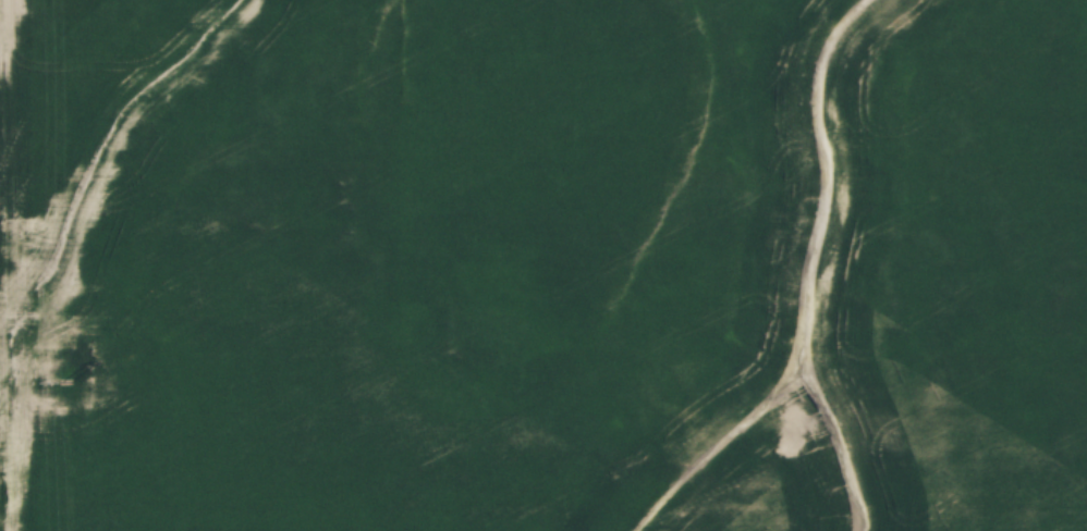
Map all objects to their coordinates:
power tower: (65, 384)

